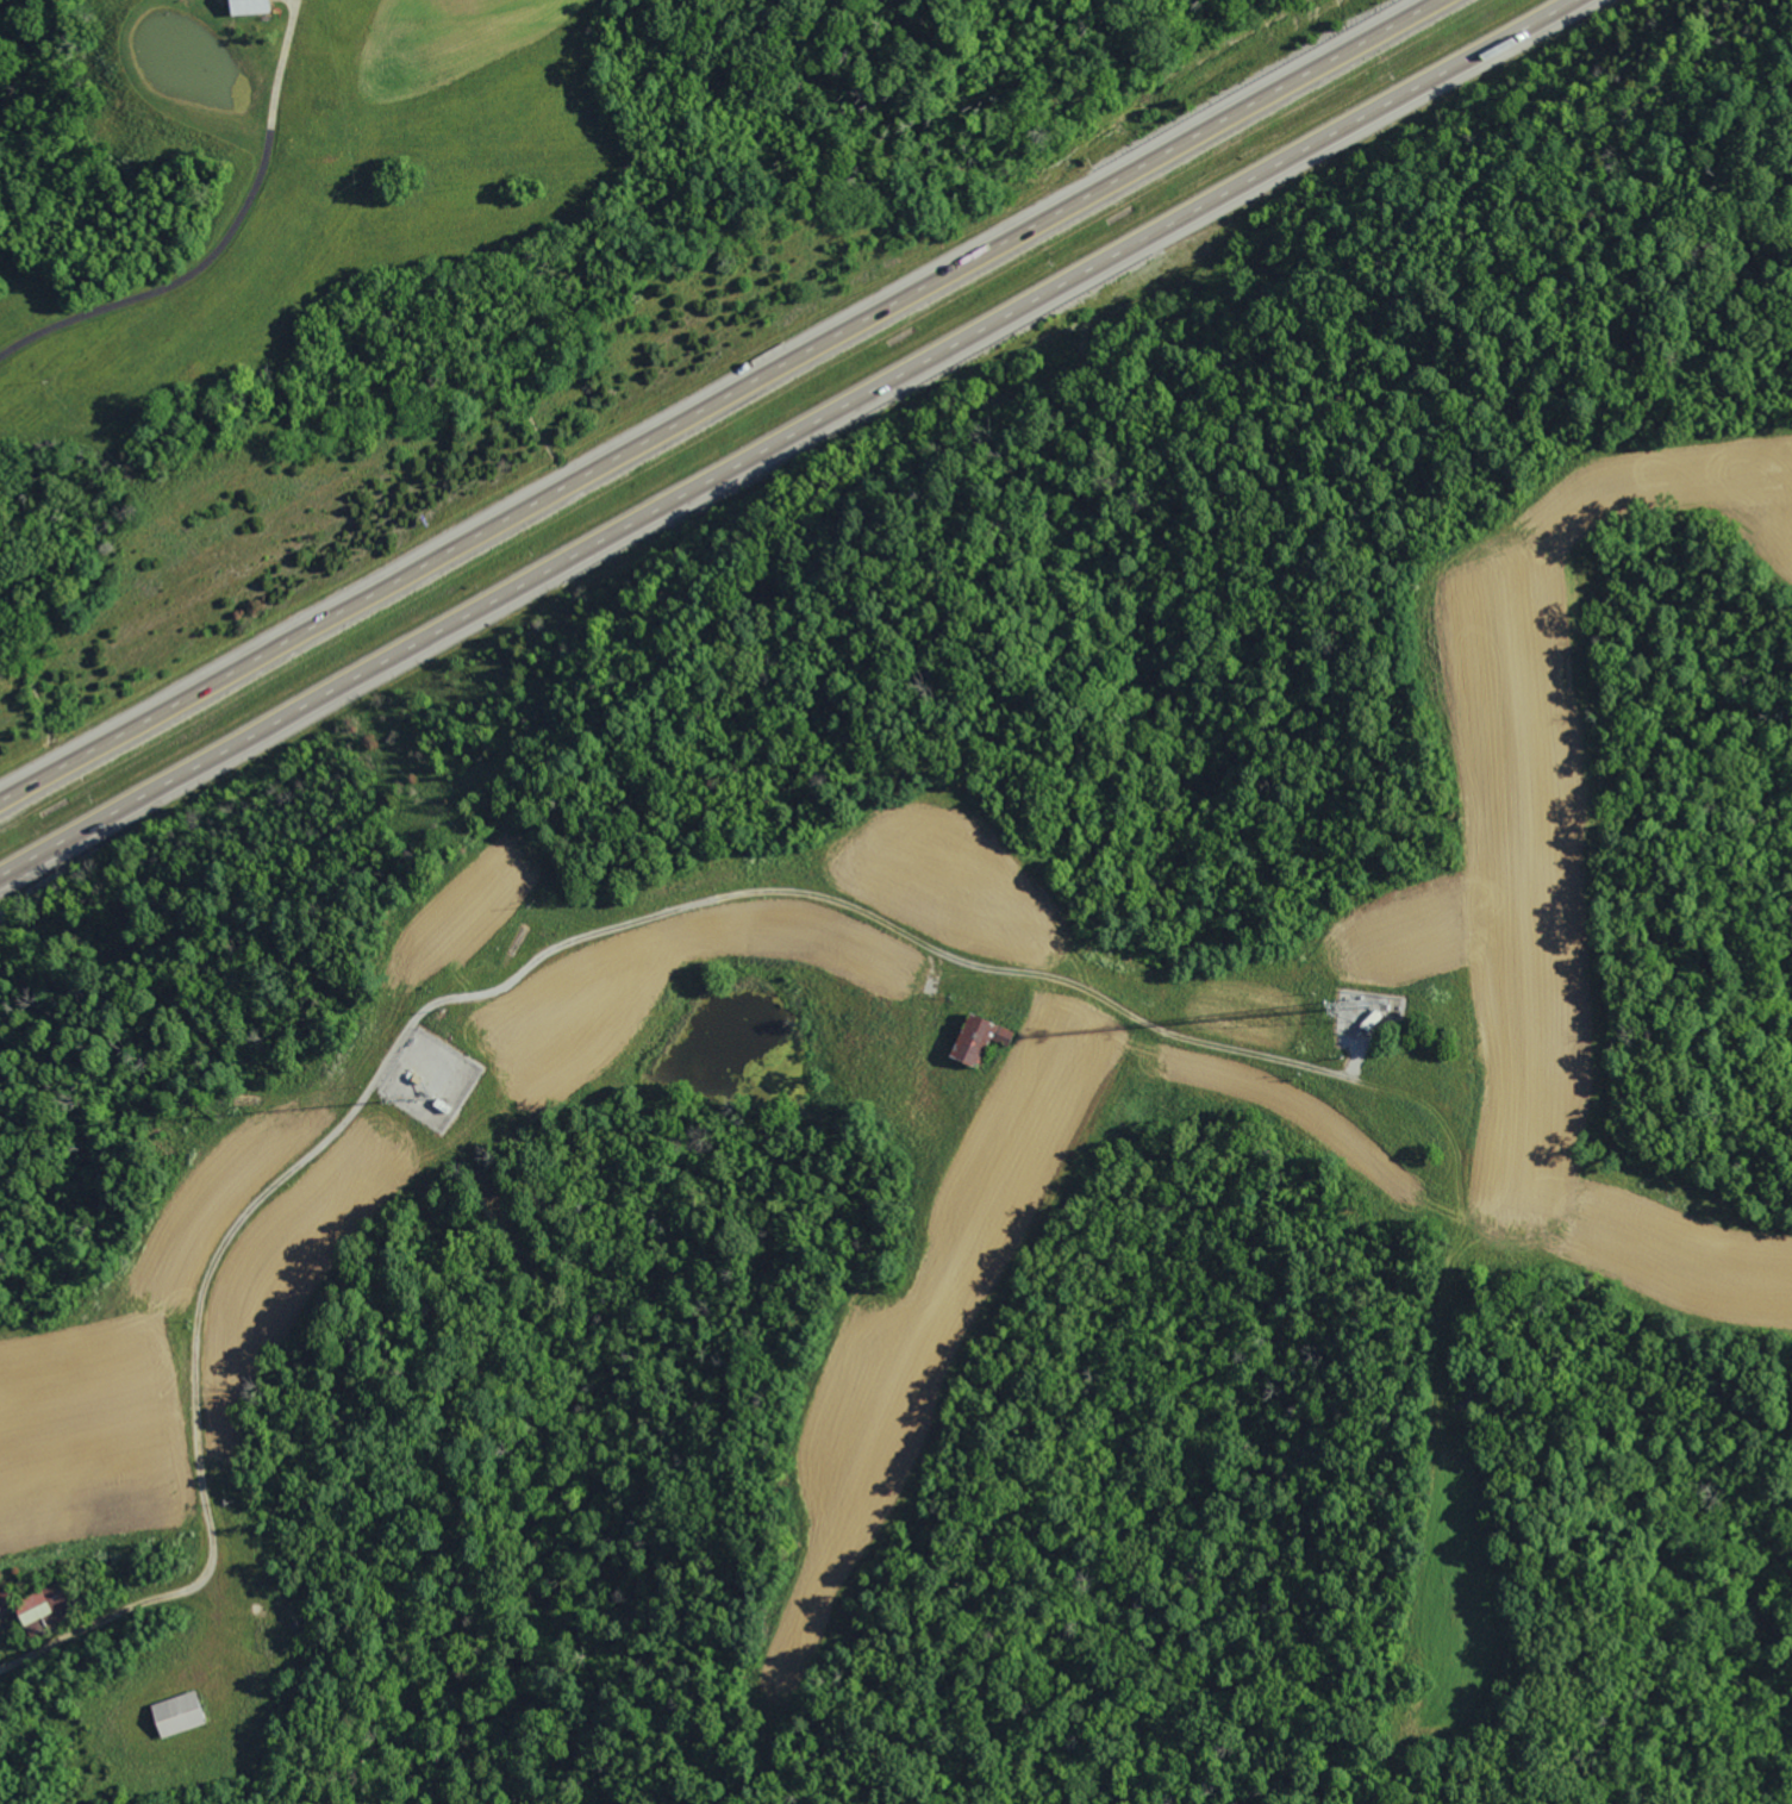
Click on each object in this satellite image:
building: (244, 7)
road: (717, 399)
road: (794, 442)
building: (37, 1606)
road: (38, 1649)

